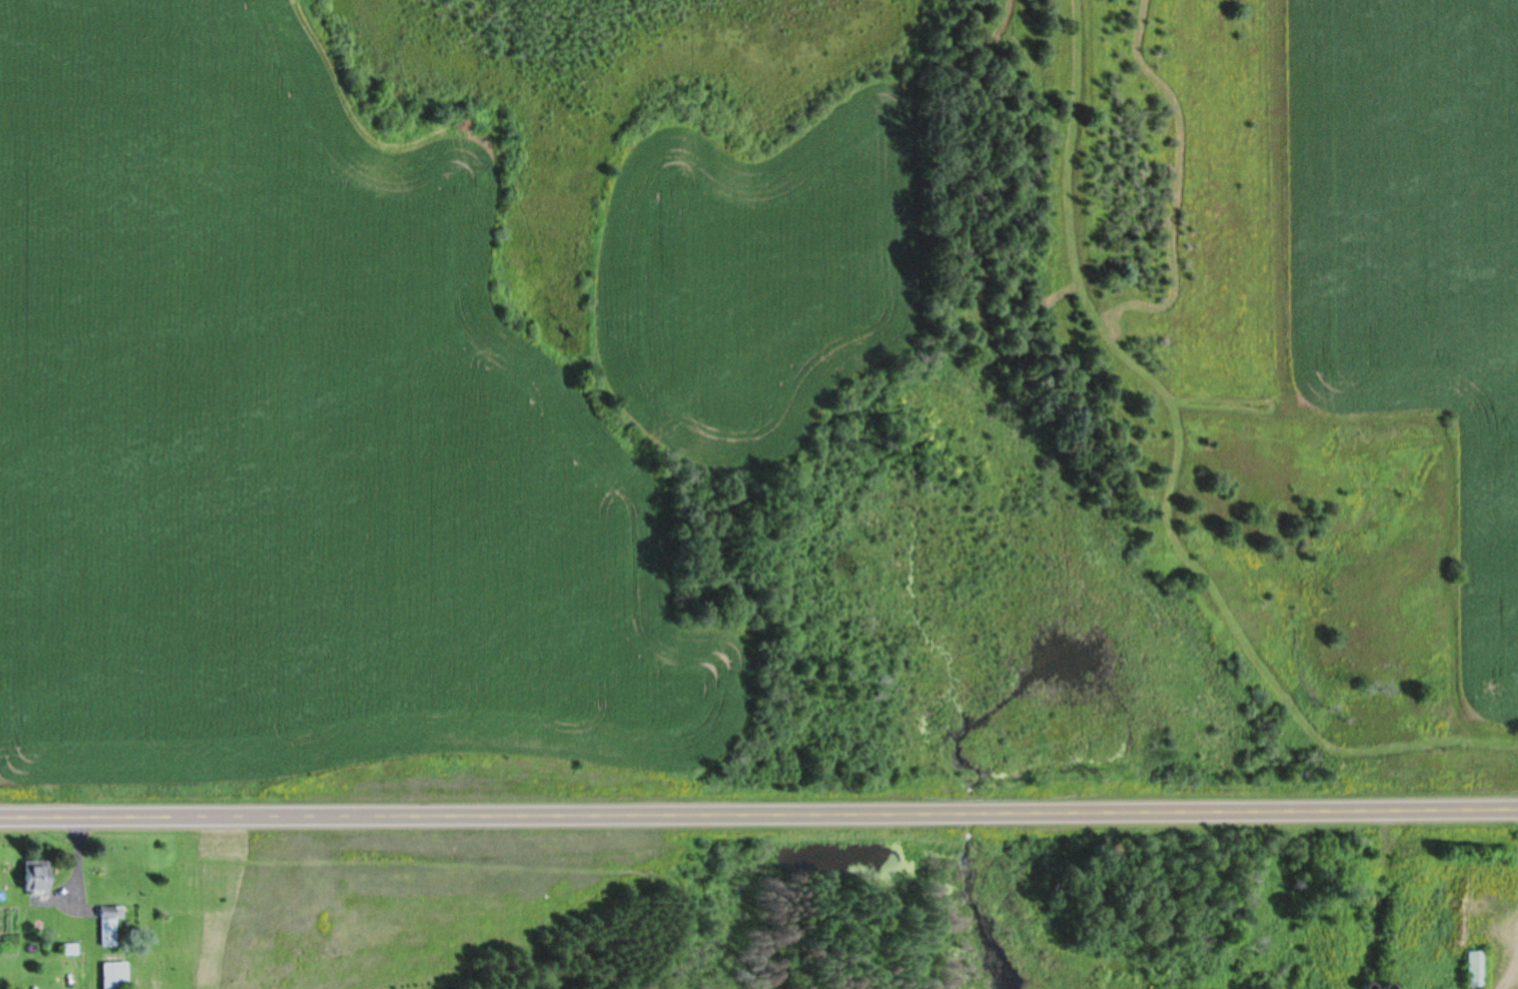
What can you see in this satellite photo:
road: (759, 815)
building: (34, 877)
building: (109, 925)
building: (1475, 967)
building: (114, 975)

